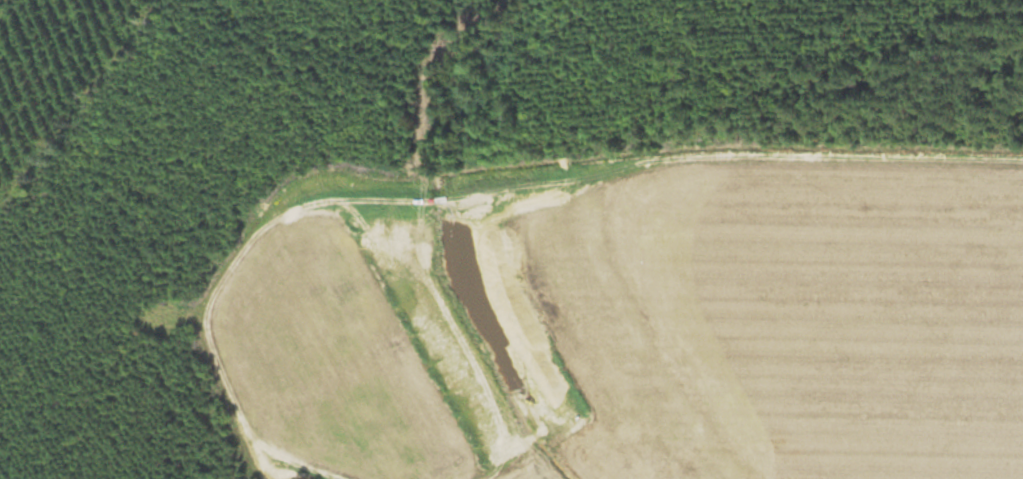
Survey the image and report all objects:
road: (323, 476)

